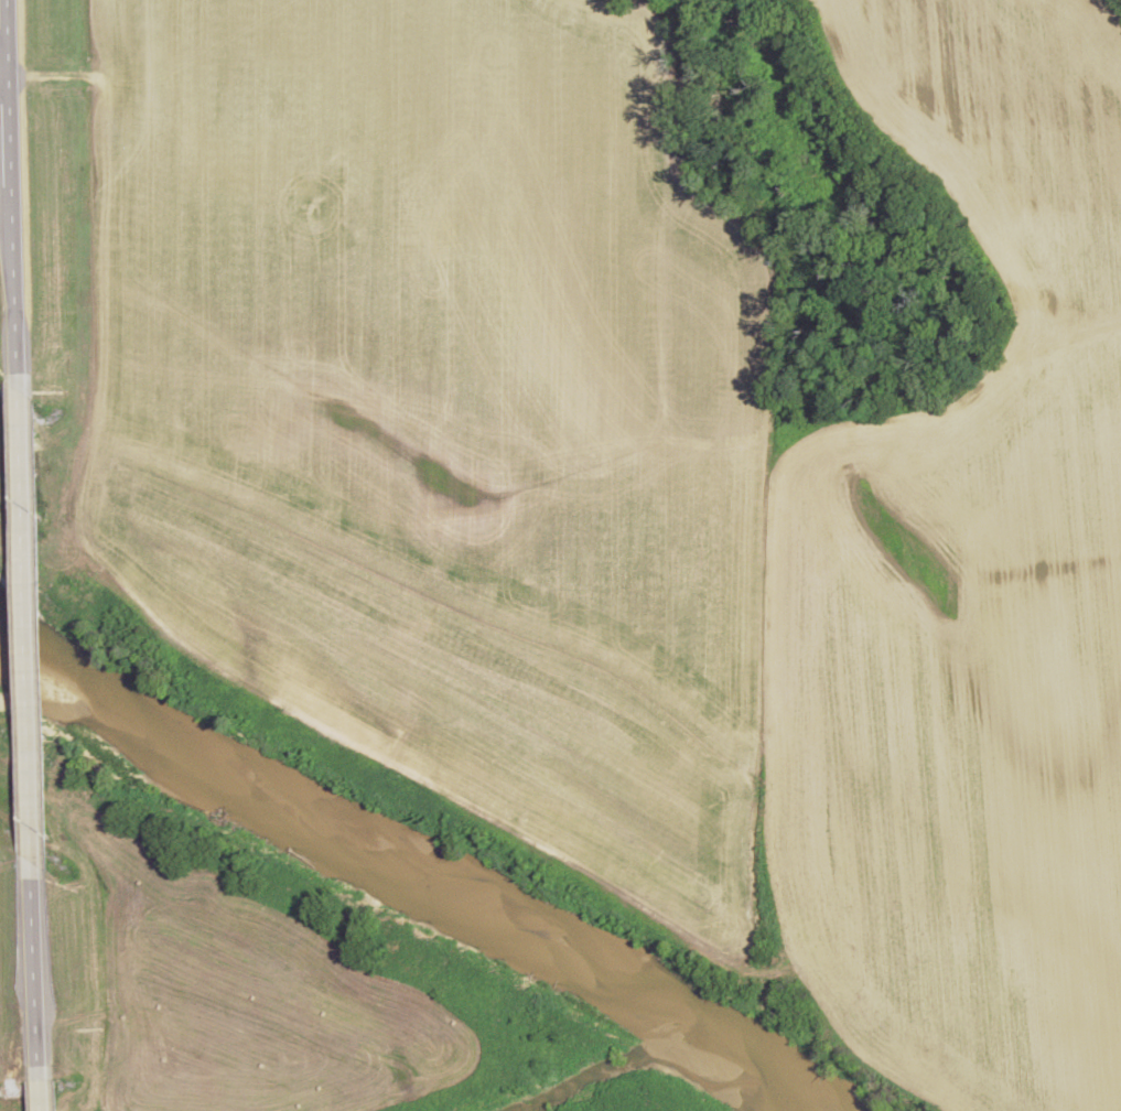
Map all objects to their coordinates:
road: (12, 43)
road: (7, 87)
road: (15, 137)
road: (20, 280)
road: (29, 627)
river: (405, 864)
road: (37, 973)
road: (42, 1089)

